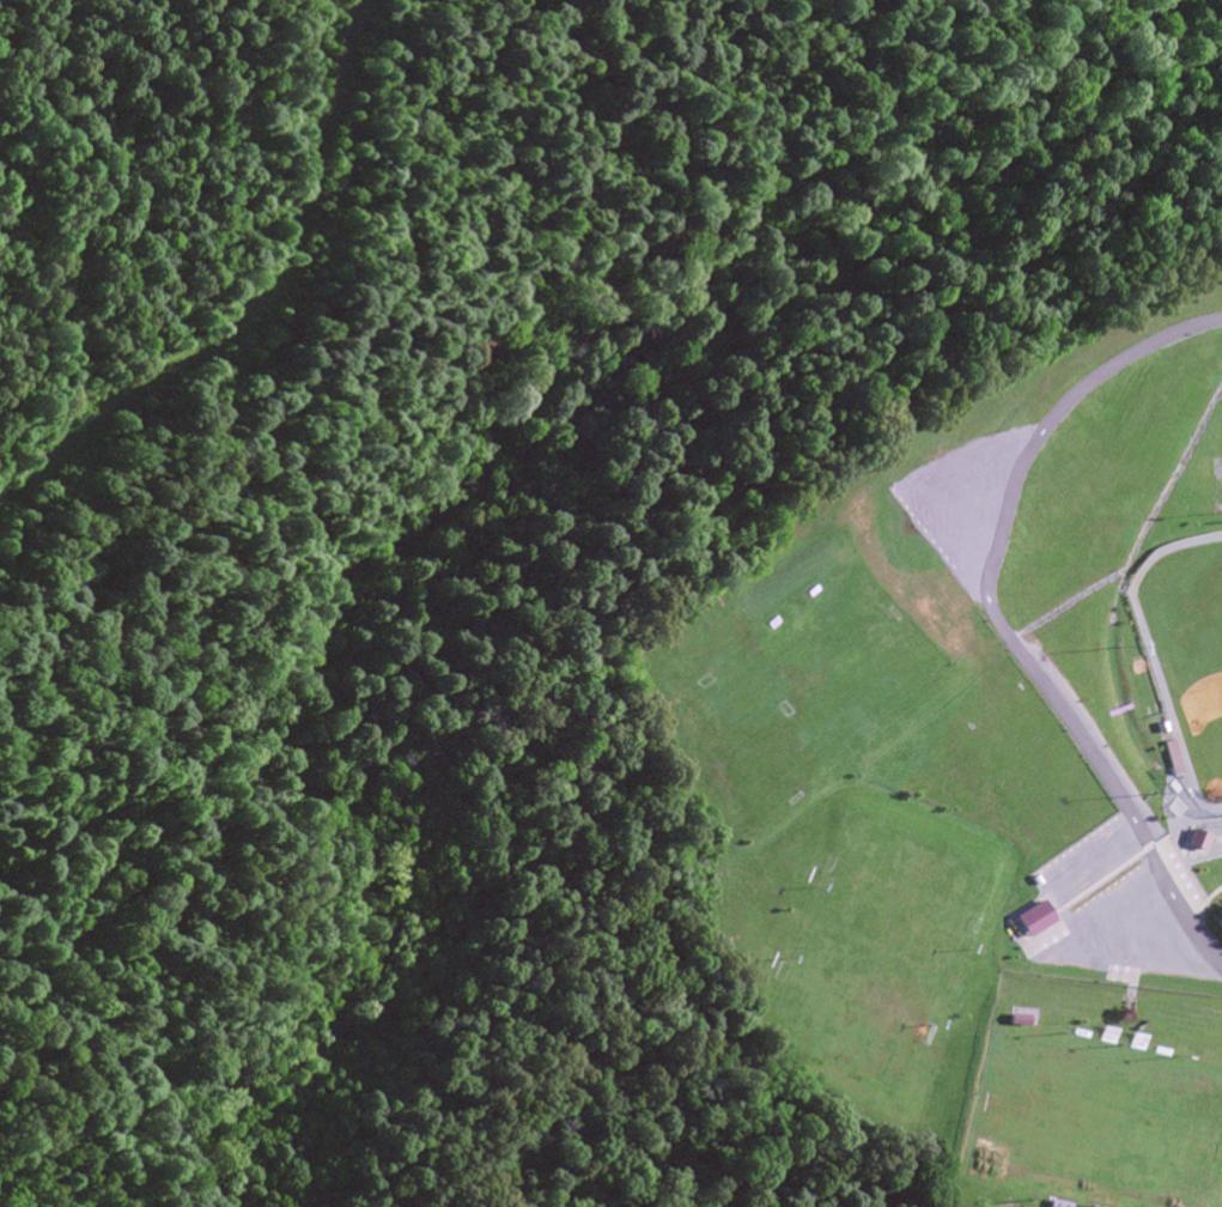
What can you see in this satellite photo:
parking lot: (943, 598)
park: (847, 617)
road: (995, 617)
park: (1185, 656)
park: (782, 665)
park: (883, 673)
park: (811, 724)
park: (1023, 776)
building: (1035, 916)
parking lot: (1133, 939)
park: (873, 952)
park: (1093, 1126)

